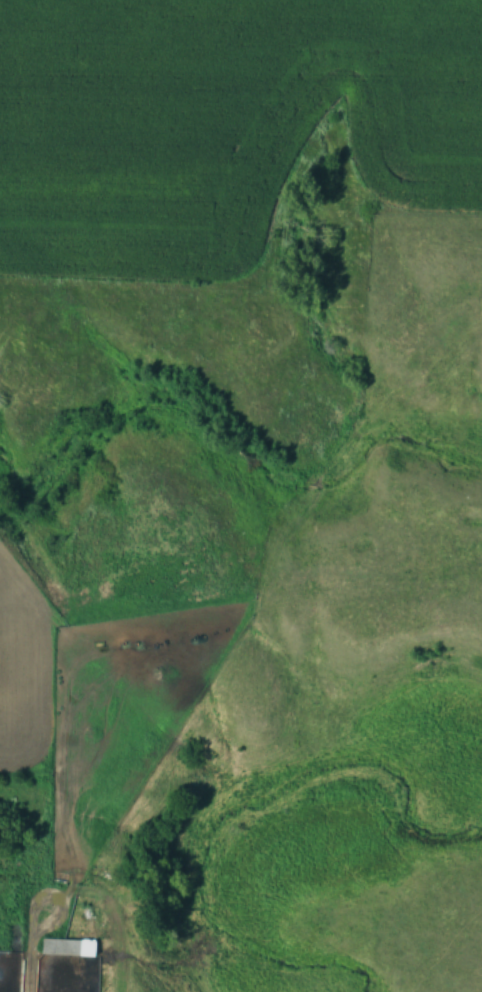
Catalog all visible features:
building: (65, 948)

